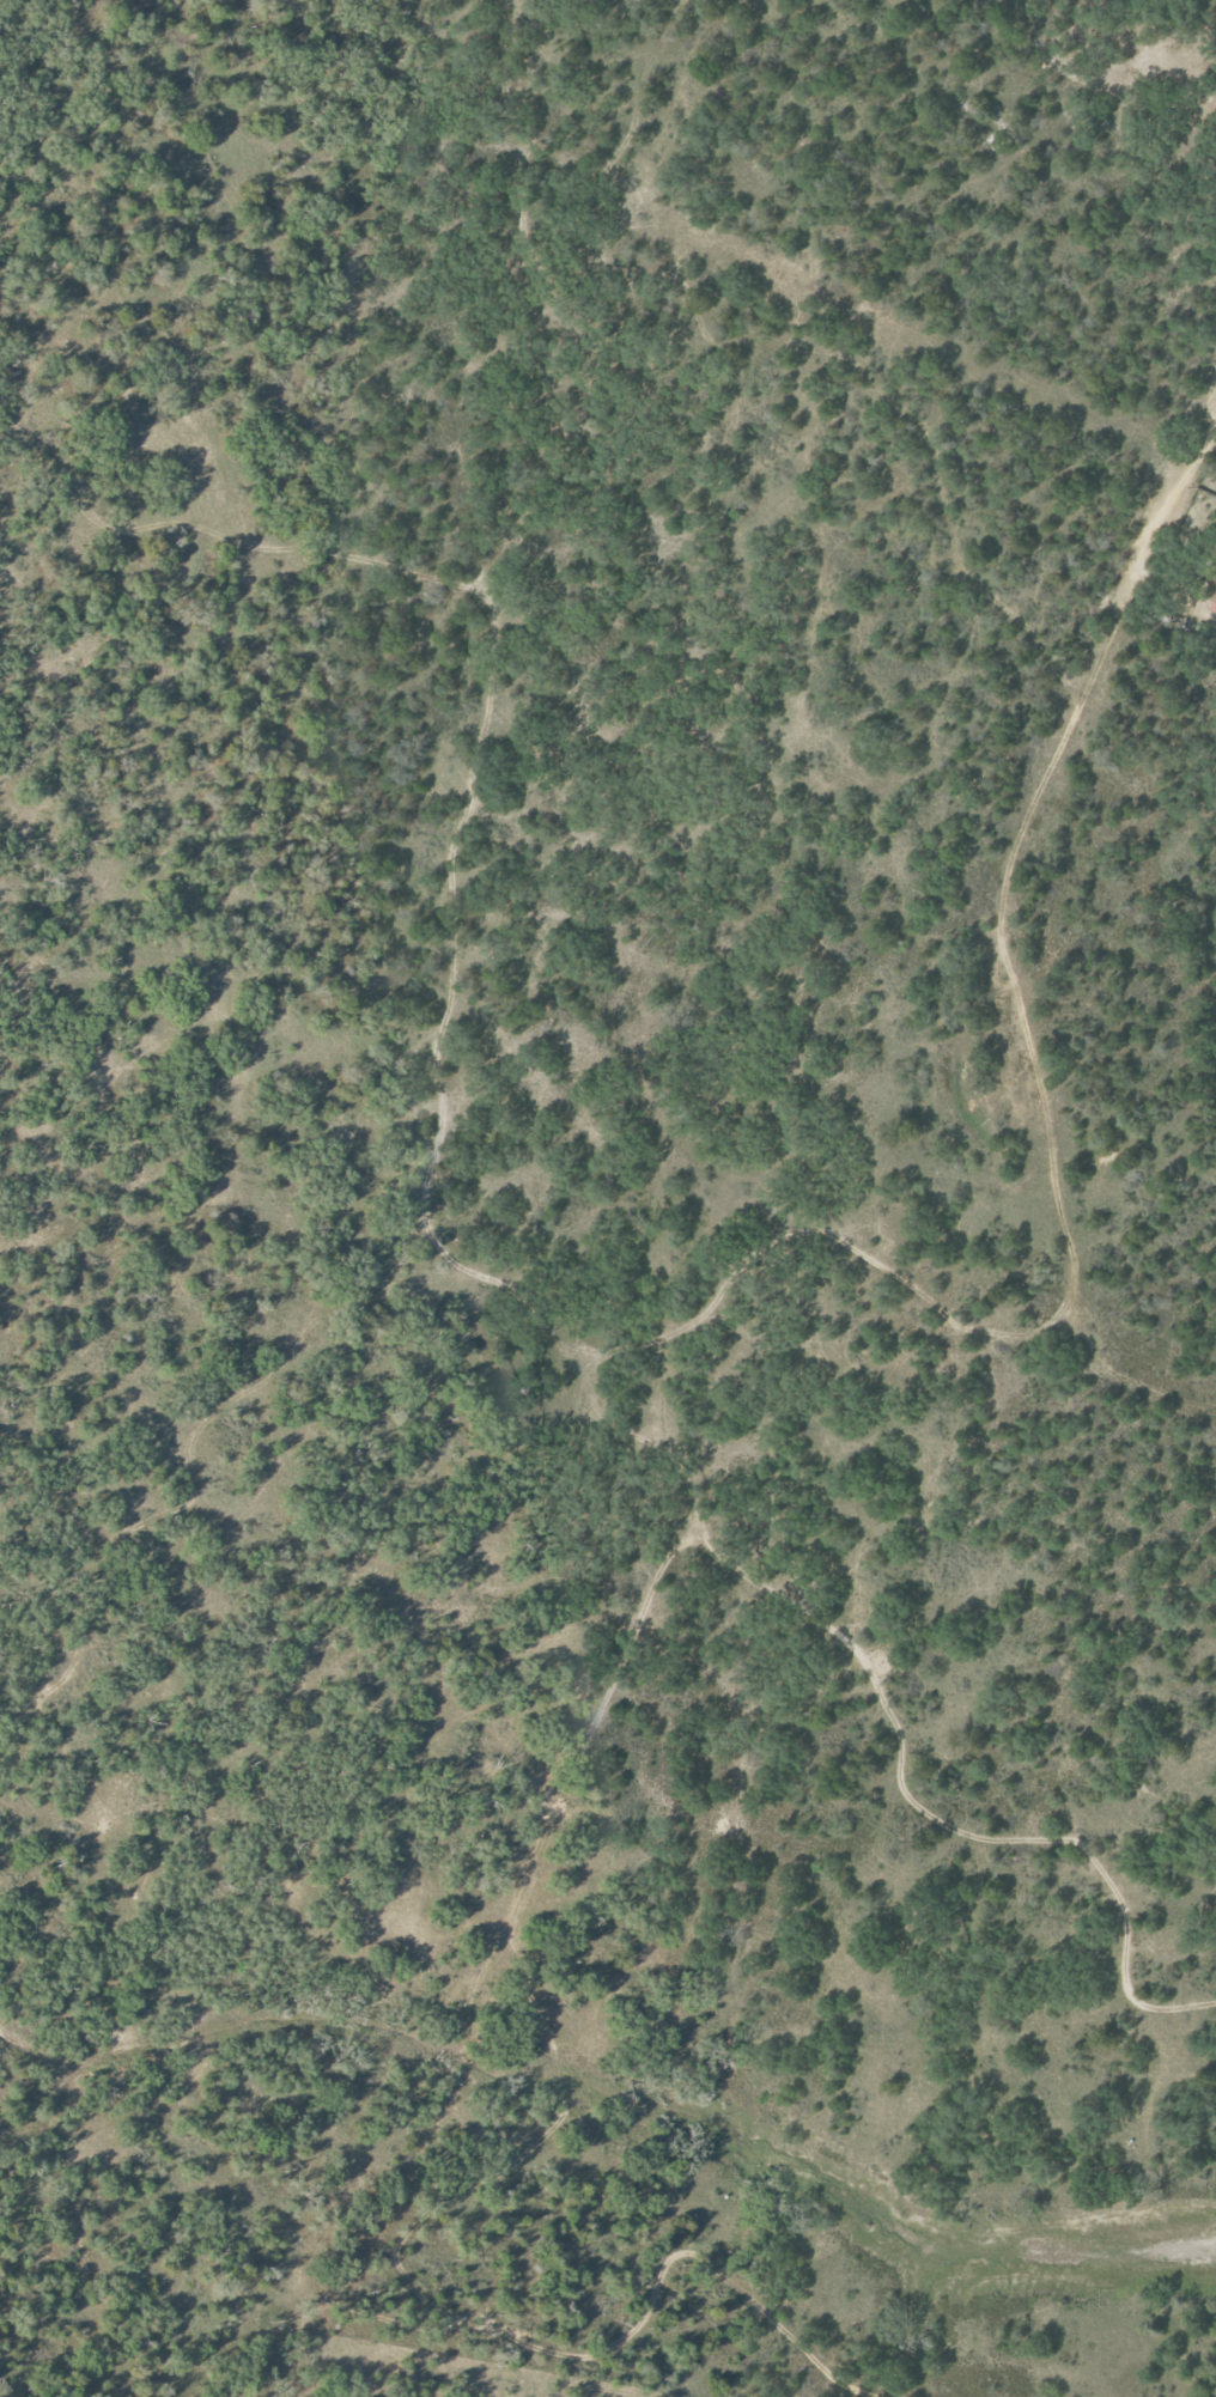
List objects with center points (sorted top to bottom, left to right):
road: (1169, 493)
building: (1214, 601)

